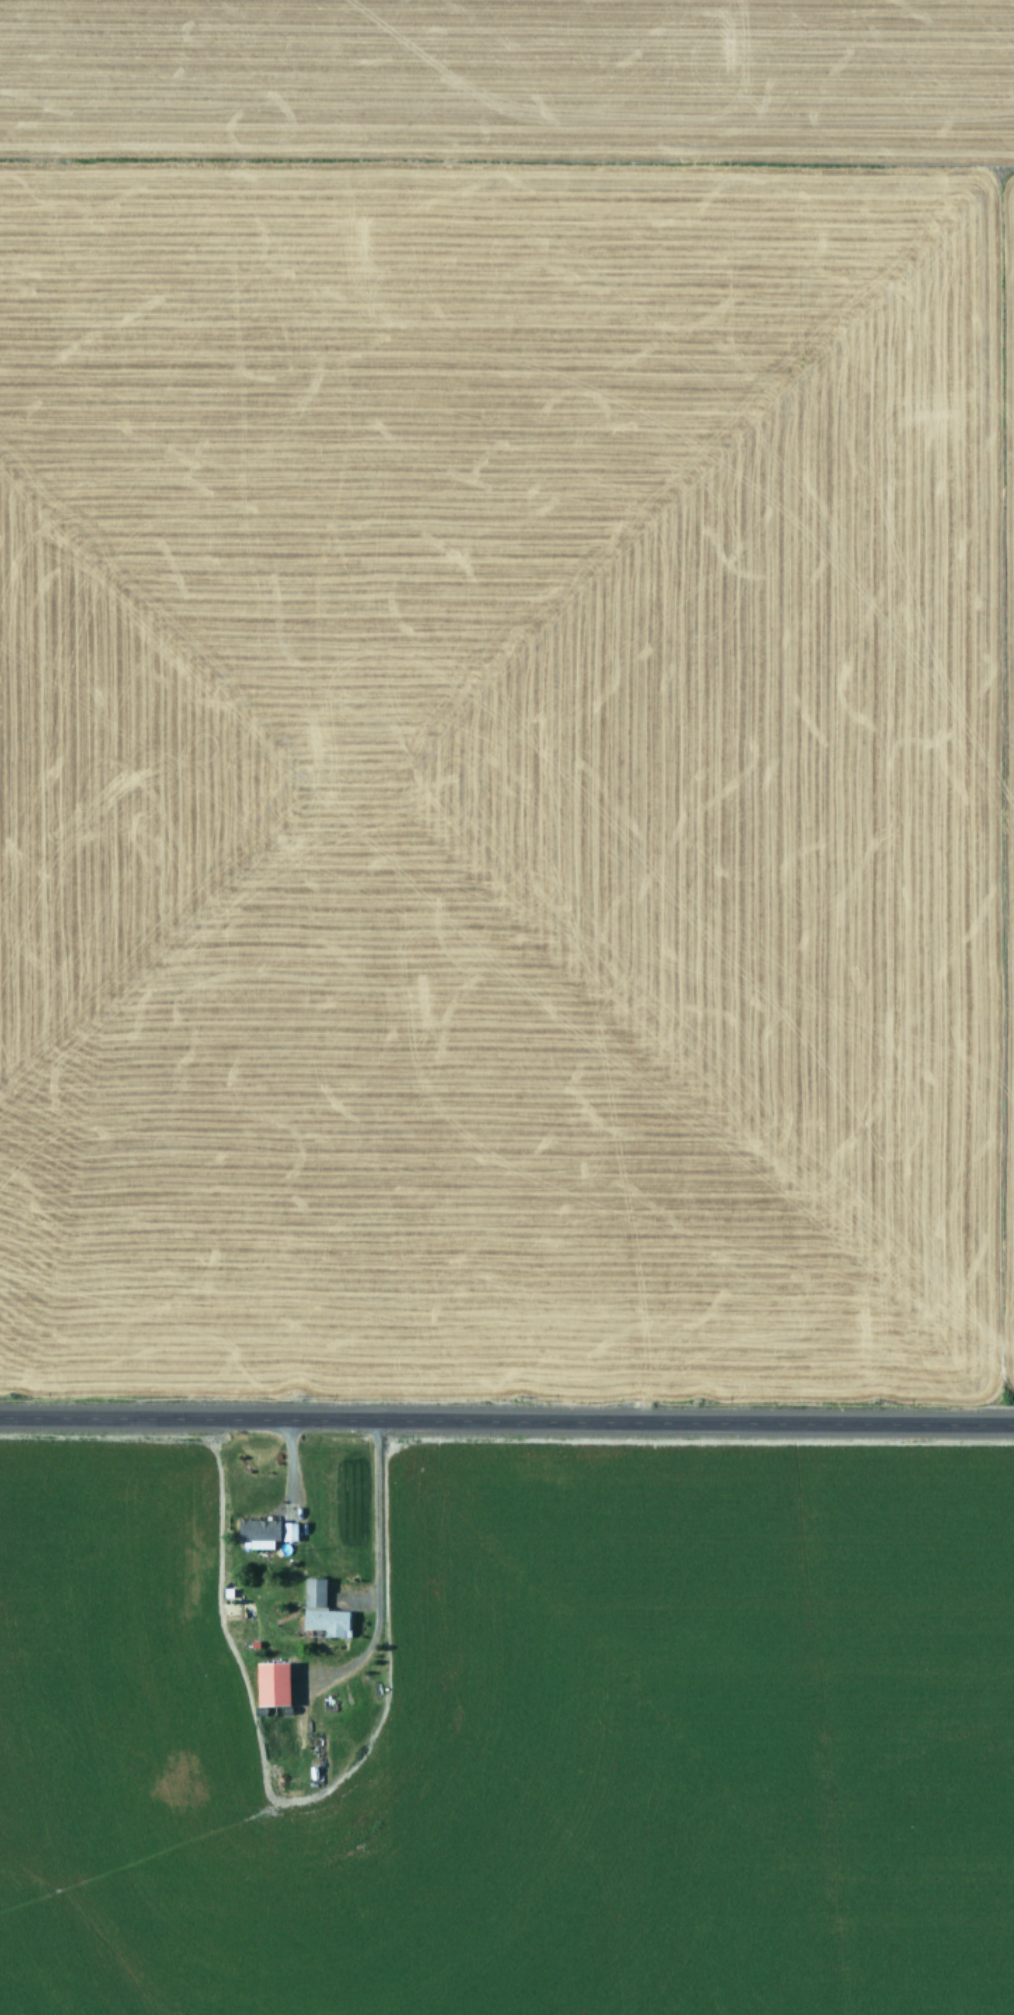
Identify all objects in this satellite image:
crop: (507, 691)
road: (507, 1421)
crop: (505, 1725)

